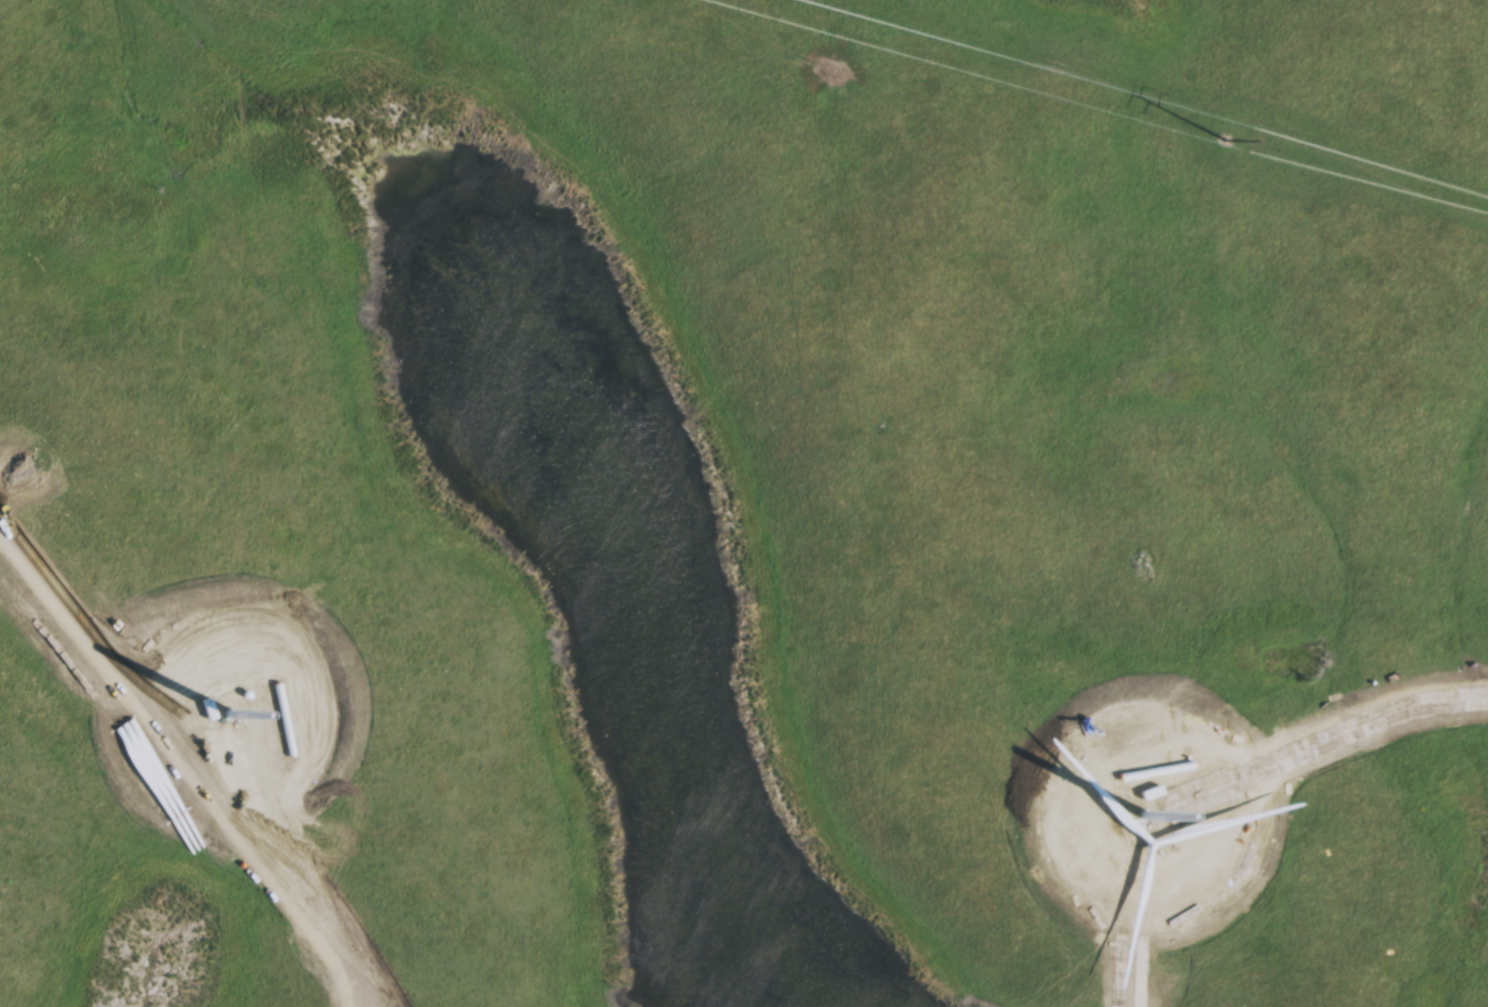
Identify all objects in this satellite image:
power tower: (1228, 136)
wind turbine: (229, 722)
wind turbine: (1144, 834)

